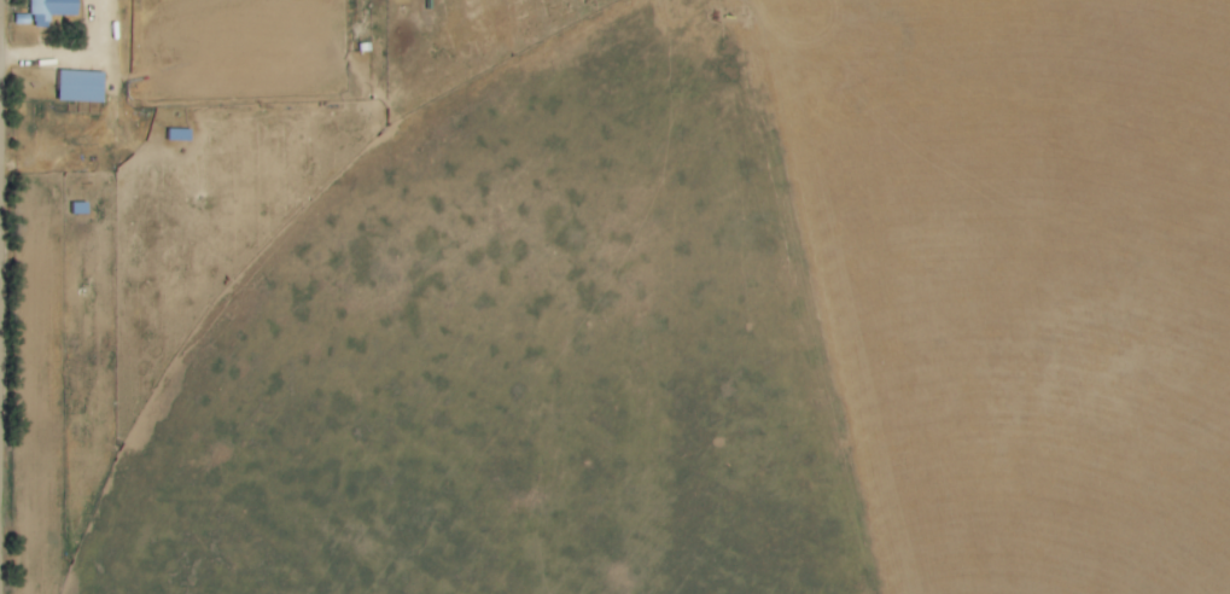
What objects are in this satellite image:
building: (47, 10)
road: (83, 64)
building: (75, 87)
road: (2, 321)

